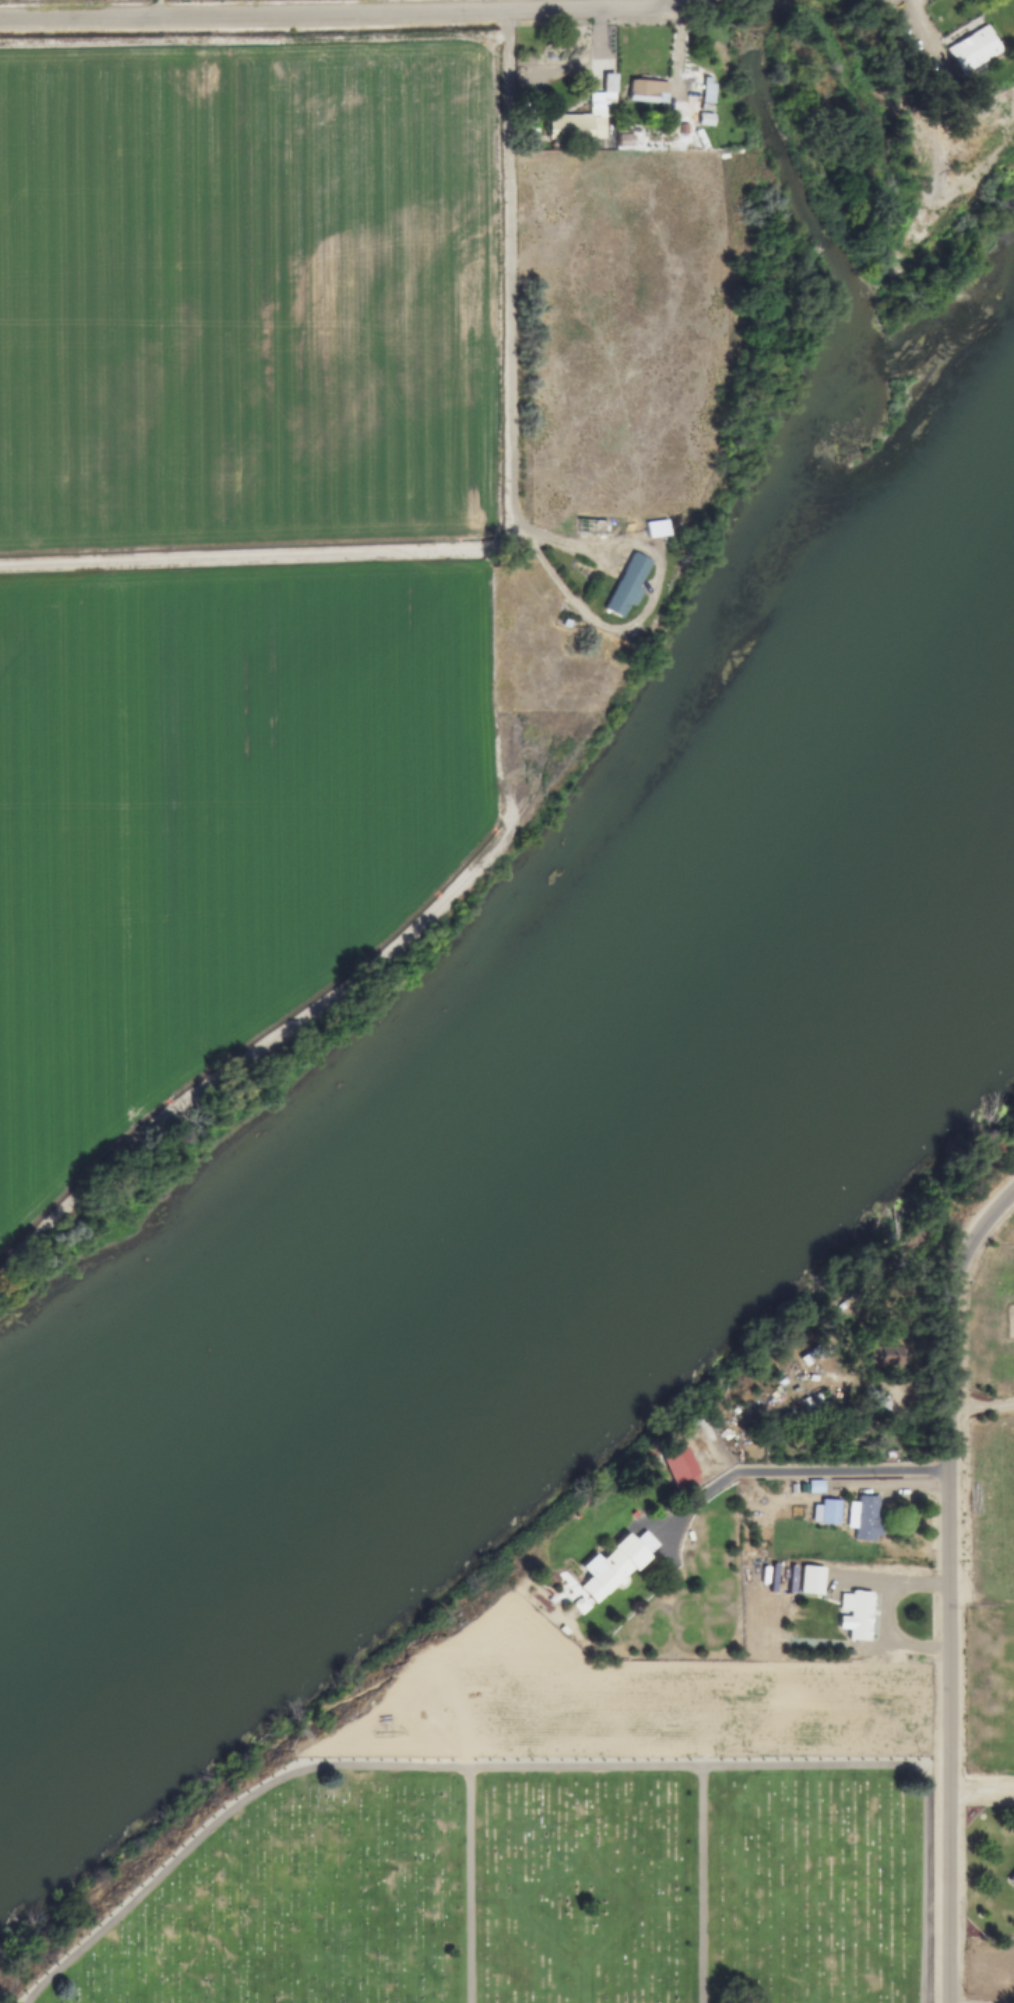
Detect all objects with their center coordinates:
road: (354, 13)
road: (925, 27)
building: (972, 51)
building: (608, 90)
building: (648, 92)
building: (707, 92)
building: (705, 120)
building: (575, 129)
road: (512, 462)
building: (656, 528)
road: (265, 557)
building: (628, 584)
road: (260, 1043)
river: (539, 1184)
building: (882, 1356)
building: (679, 1467)
road: (802, 1474)
building: (825, 1511)
building: (864, 1518)
building: (615, 1565)
building: (810, 1580)
road: (945, 1586)
building: (854, 1614)
road: (438, 1763)
building: (1011, 1880)
road: (468, 1883)
road: (703, 1884)
road: (832, 1884)
park: (536, 1893)

